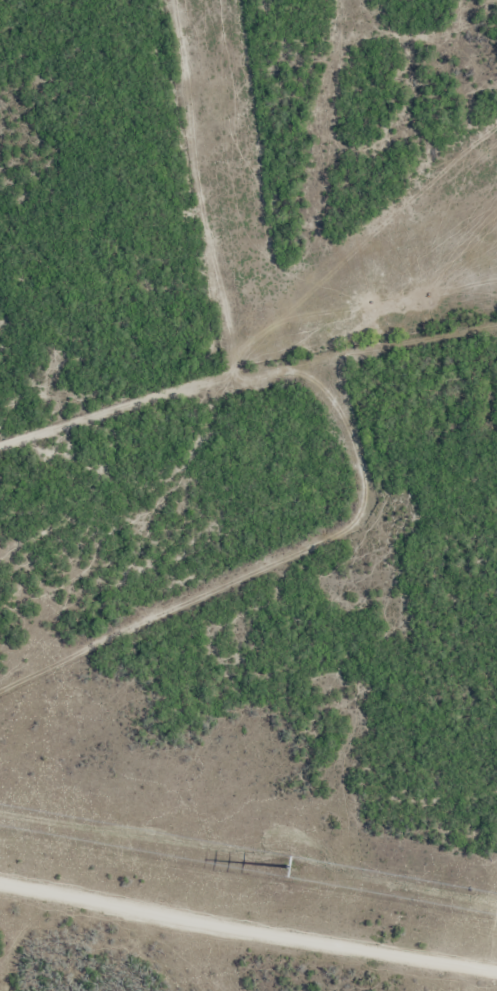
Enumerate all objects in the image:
power tower: (292, 869)
road: (248, 920)

